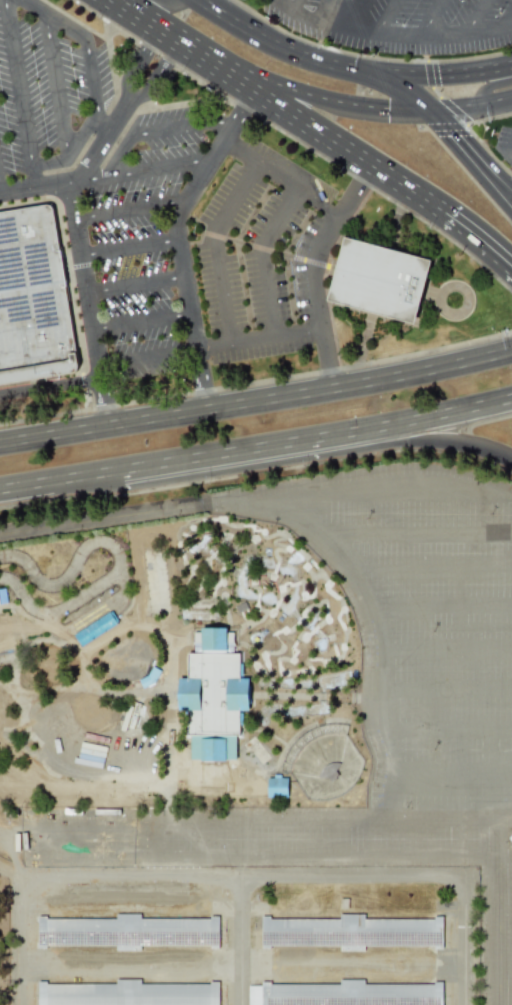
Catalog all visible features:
road: (165, 2)
road: (294, 5)
road: (323, 10)
road: (384, 16)
road: (432, 17)
road: (473, 17)
road: (142, 19)
parking lot: (401, 23)
road: (393, 34)
road: (276, 44)
road: (87, 51)
road: (137, 64)
traffic signals: (361, 72)
road: (154, 75)
road: (436, 75)
road: (55, 83)
road: (281, 84)
road: (400, 87)
road: (485, 90)
road: (20, 94)
road: (440, 96)
road: (474, 107)
road: (414, 109)
traffic signals: (436, 110)
road: (446, 122)
road: (444, 127)
road: (159, 130)
road: (473, 133)
road: (296, 140)
road: (72, 145)
road: (345, 148)
road: (484, 162)
road: (142, 171)
road: (78, 172)
road: (482, 172)
road: (280, 178)
road: (127, 209)
road: (176, 239)
parking lot: (141, 243)
road: (213, 247)
road: (128, 248)
road: (266, 249)
road: (264, 257)
parking lot: (255, 263)
road: (314, 269)
road: (329, 274)
road: (68, 279)
building: (380, 280)
road: (134, 284)
building: (33, 298)
road: (88, 304)
road: (141, 321)
road: (259, 338)
road: (147, 354)
road: (422, 371)
road: (256, 382)
road: (50, 386)
road: (166, 416)
road: (314, 438)
road: (314, 457)
road: (58, 480)
road: (383, 490)
road: (290, 514)
road: (409, 533)
road: (426, 573)
road: (440, 610)
road: (444, 652)
road: (444, 690)
building: (212, 696)
road: (445, 727)
theme park: (260, 747)
road: (505, 774)
road: (448, 776)
building: (276, 787)
road: (506, 795)
road: (506, 817)
road: (318, 848)
road: (242, 876)
road: (501, 929)
road: (237, 940)
building: (109, 993)
building: (272, 994)

